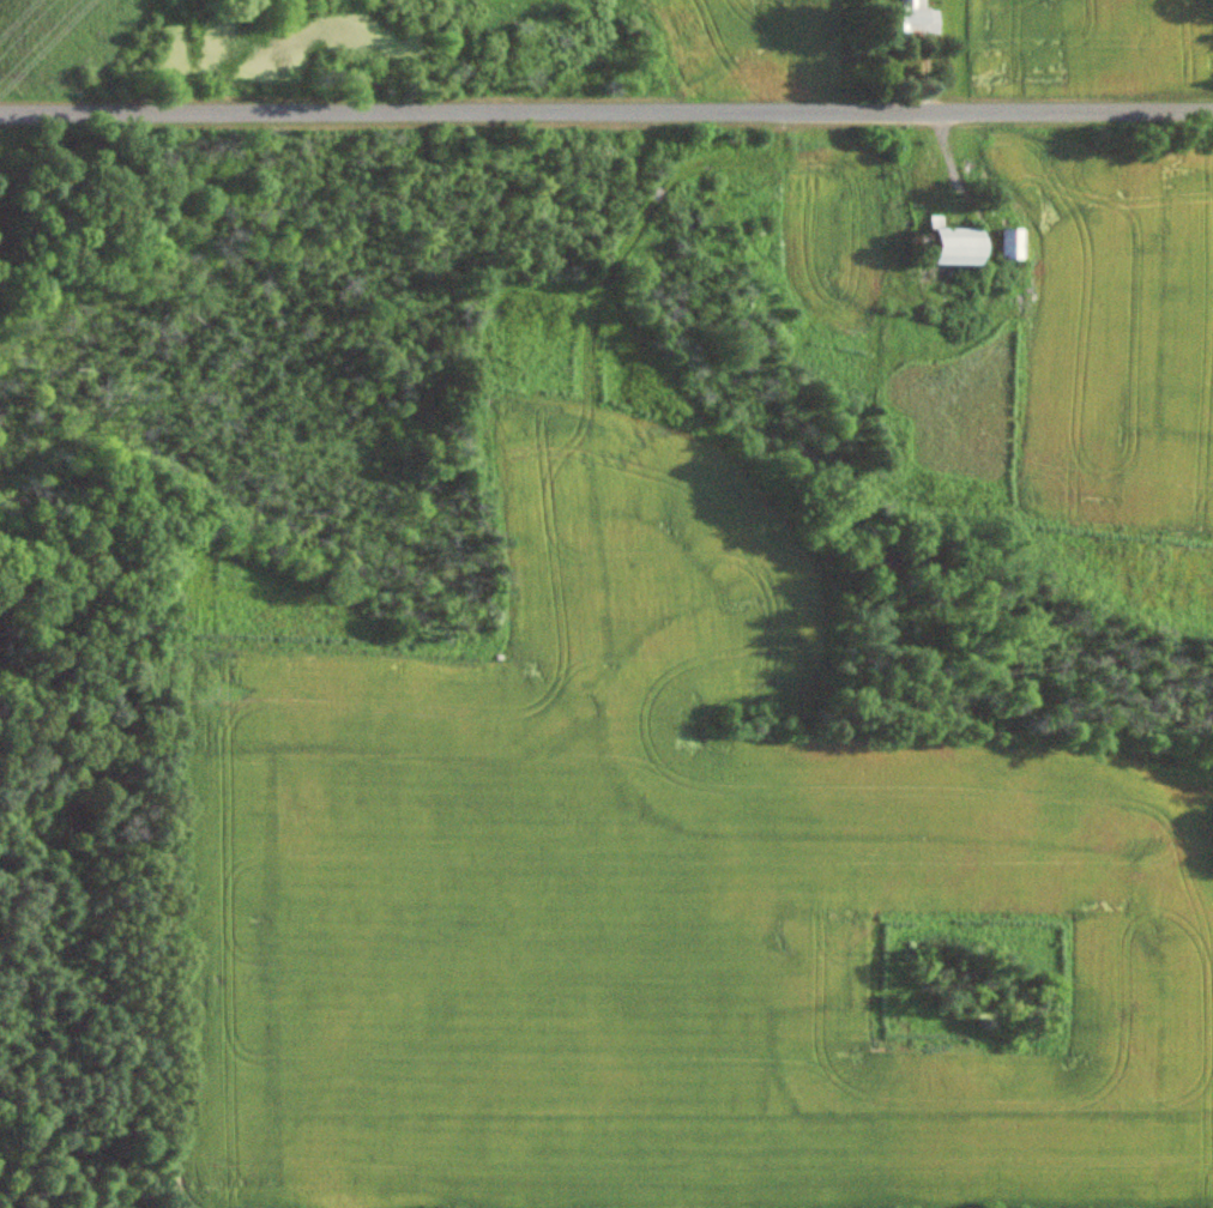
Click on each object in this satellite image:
building: (916, 17)
road: (605, 113)
building: (959, 246)
building: (1012, 256)

